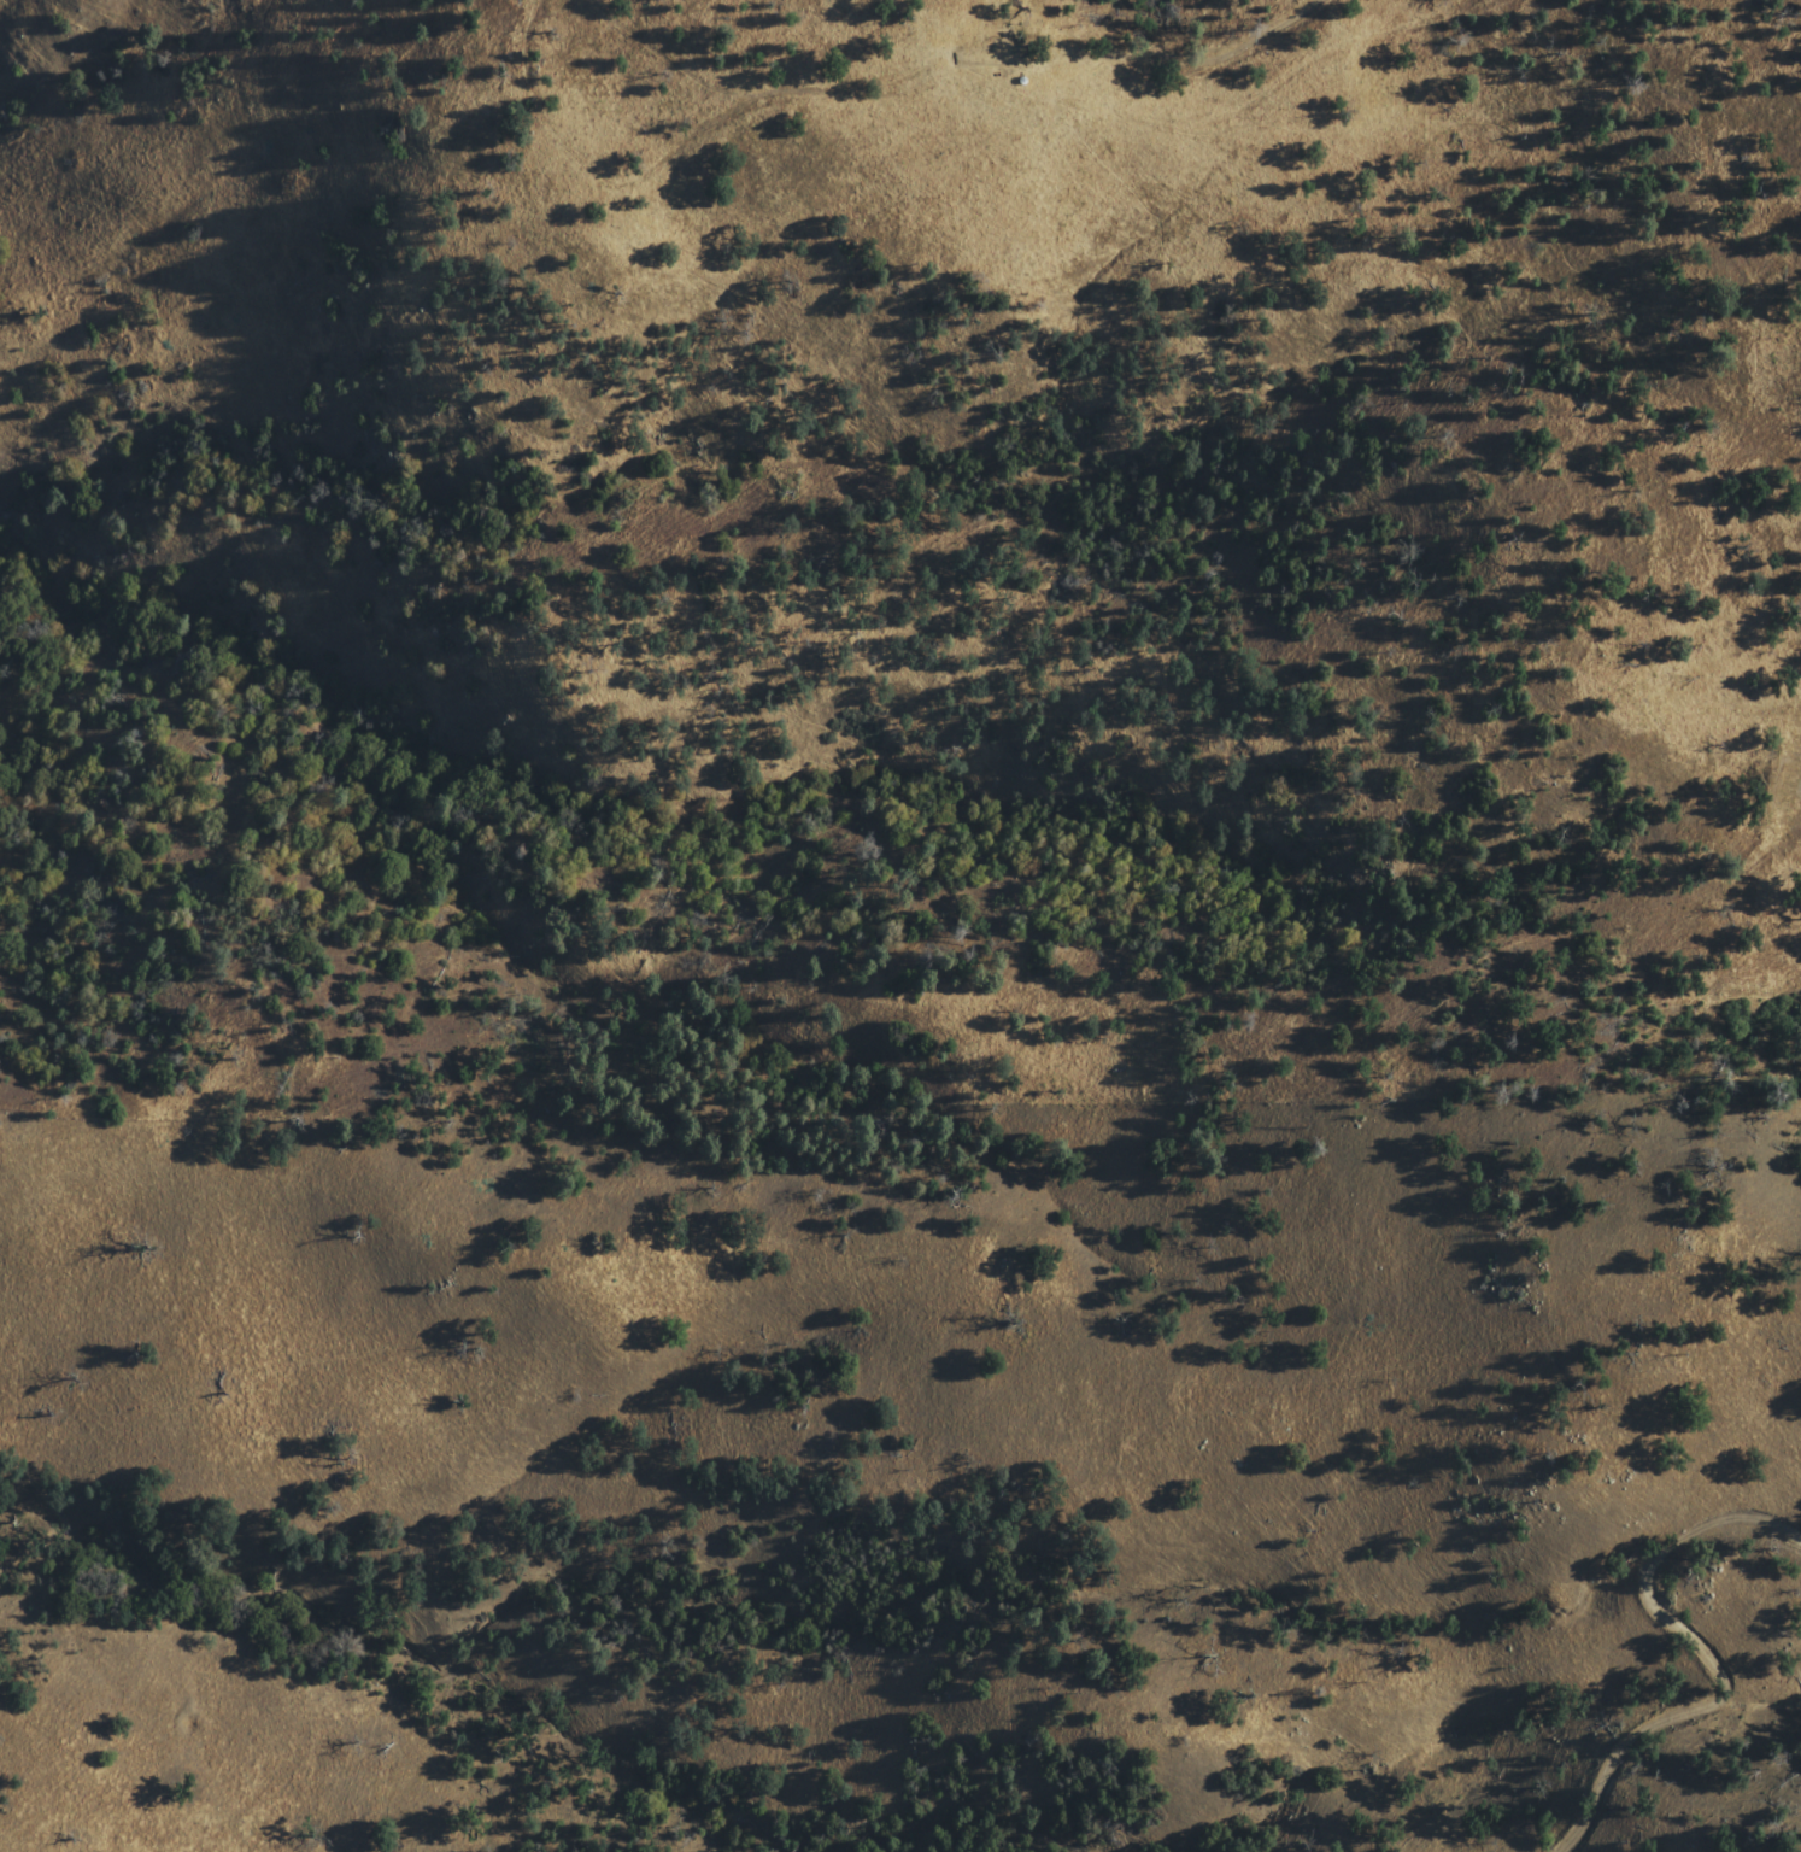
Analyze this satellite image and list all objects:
road: (1703, 1661)

